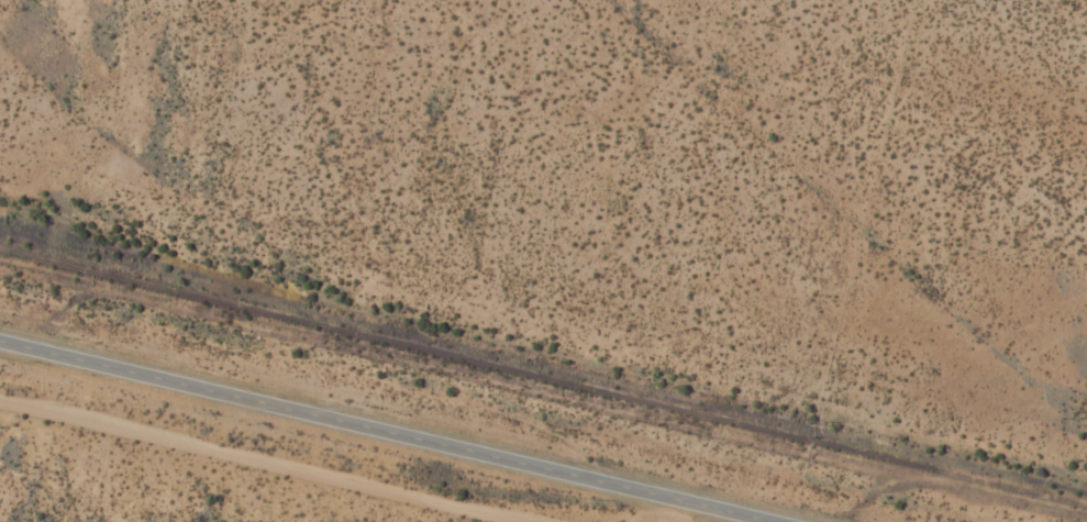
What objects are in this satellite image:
road: (381, 431)

